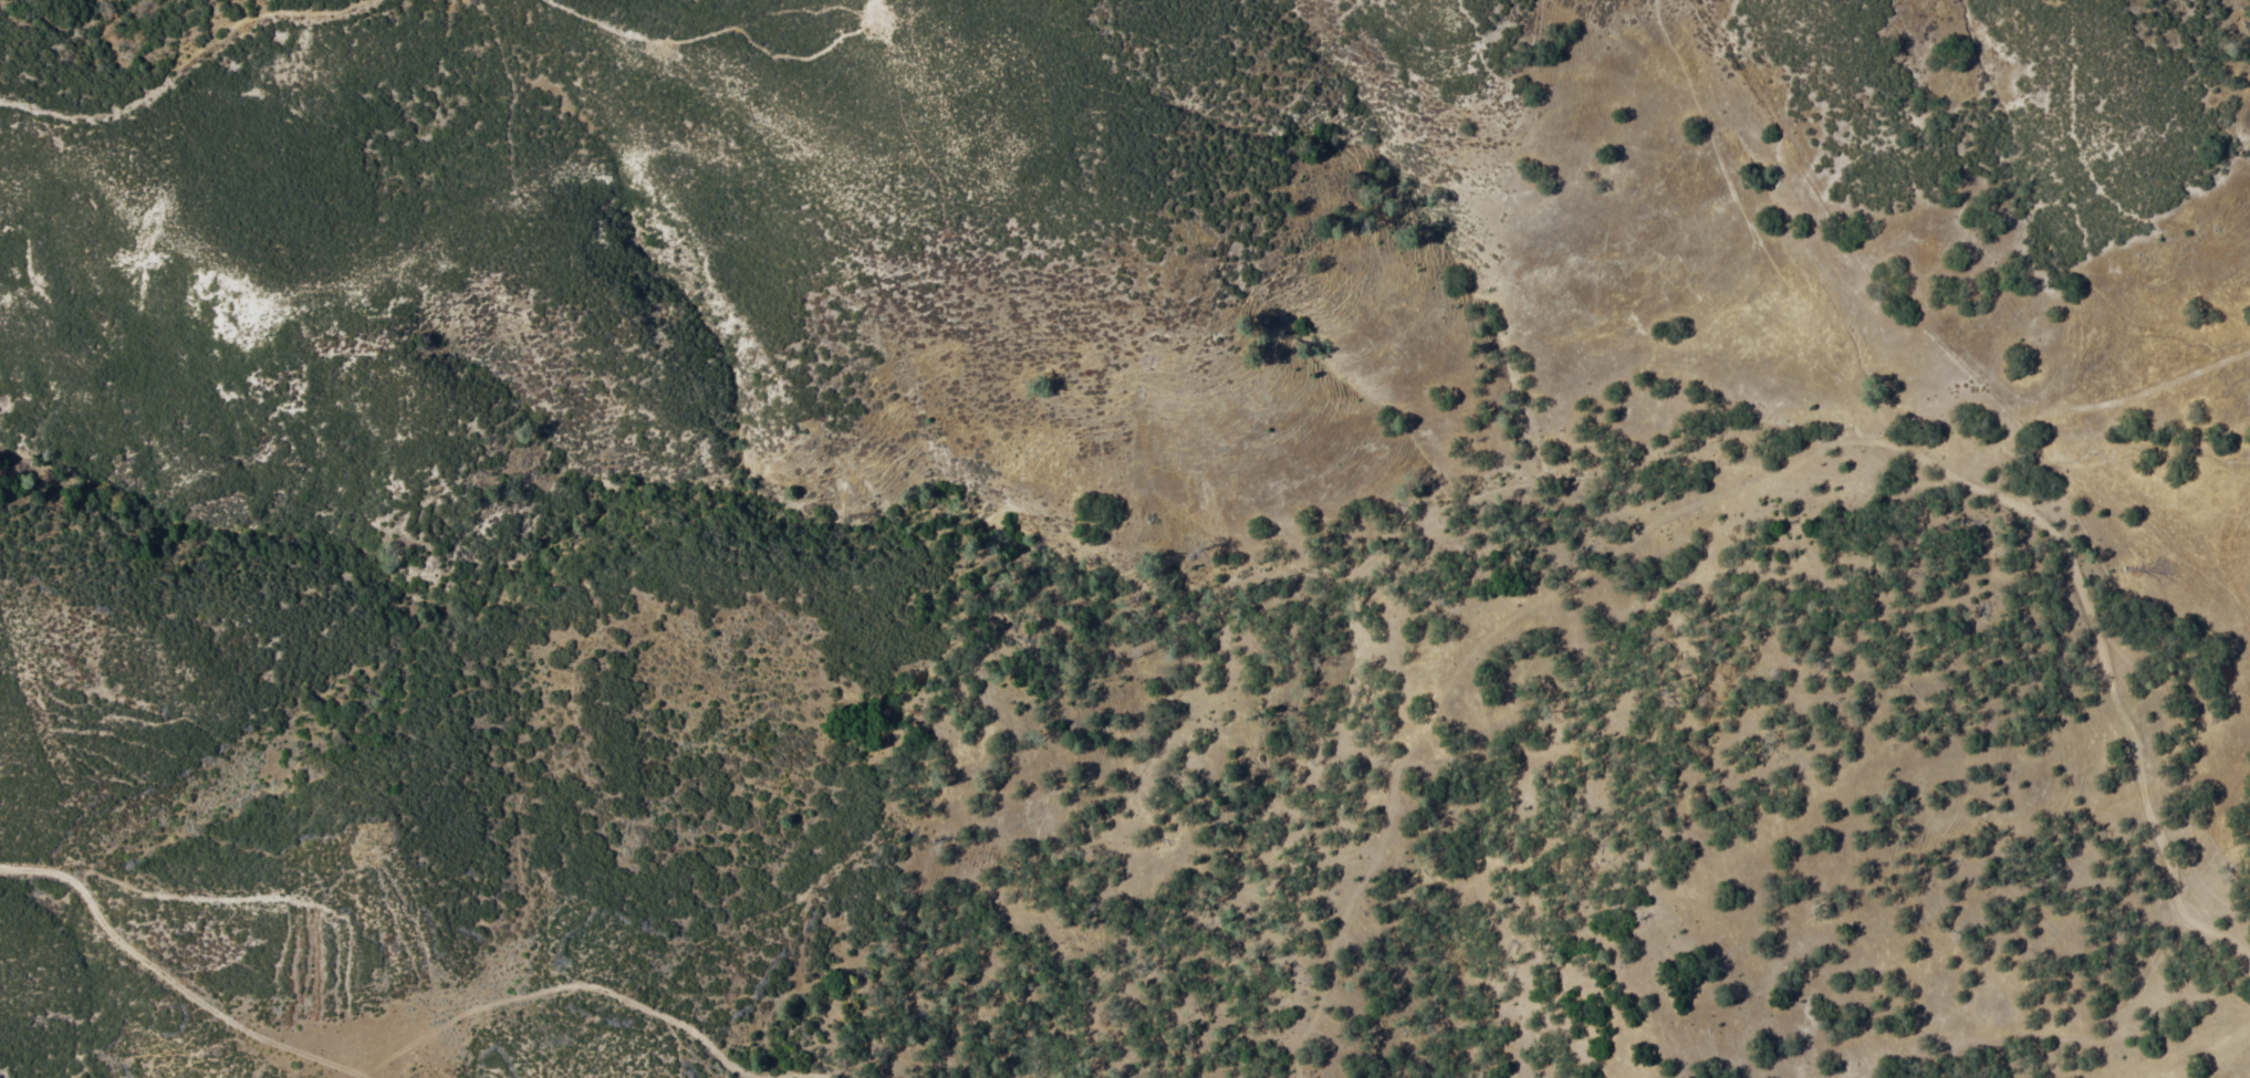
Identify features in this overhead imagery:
road: (2119, 682)
road: (157, 982)
road: (570, 997)
road: (2188, 1016)

